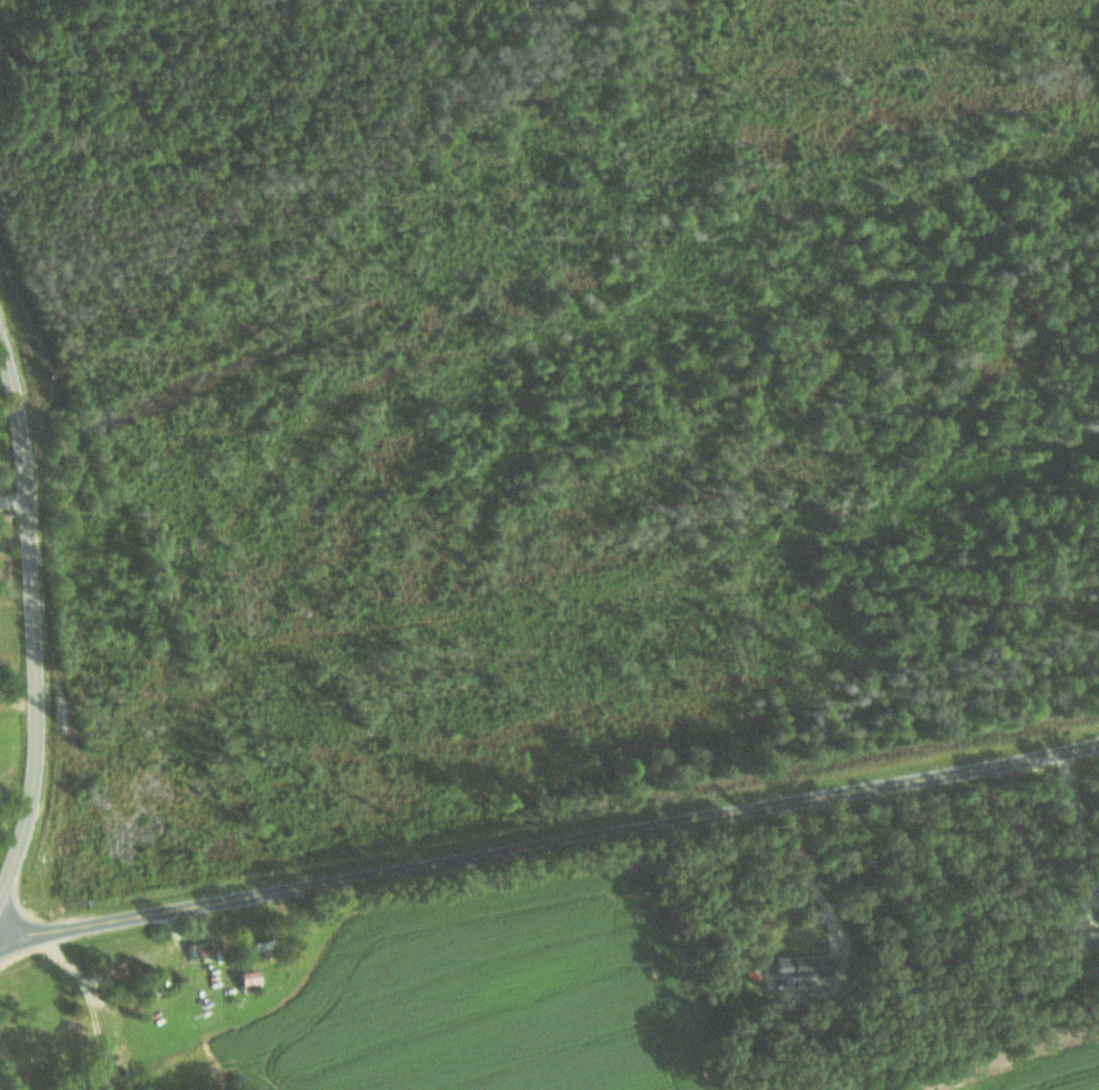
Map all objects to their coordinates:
road: (34, 621)
road: (19, 706)
road: (550, 843)
building: (1074, 935)
building: (800, 966)
building: (248, 980)

